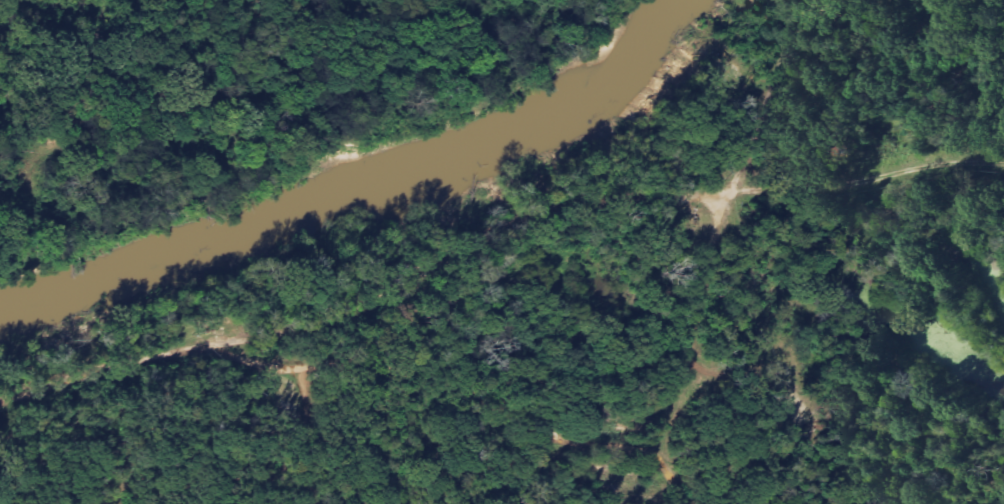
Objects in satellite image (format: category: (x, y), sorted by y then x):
river: (360, 194)
road: (356, 368)

